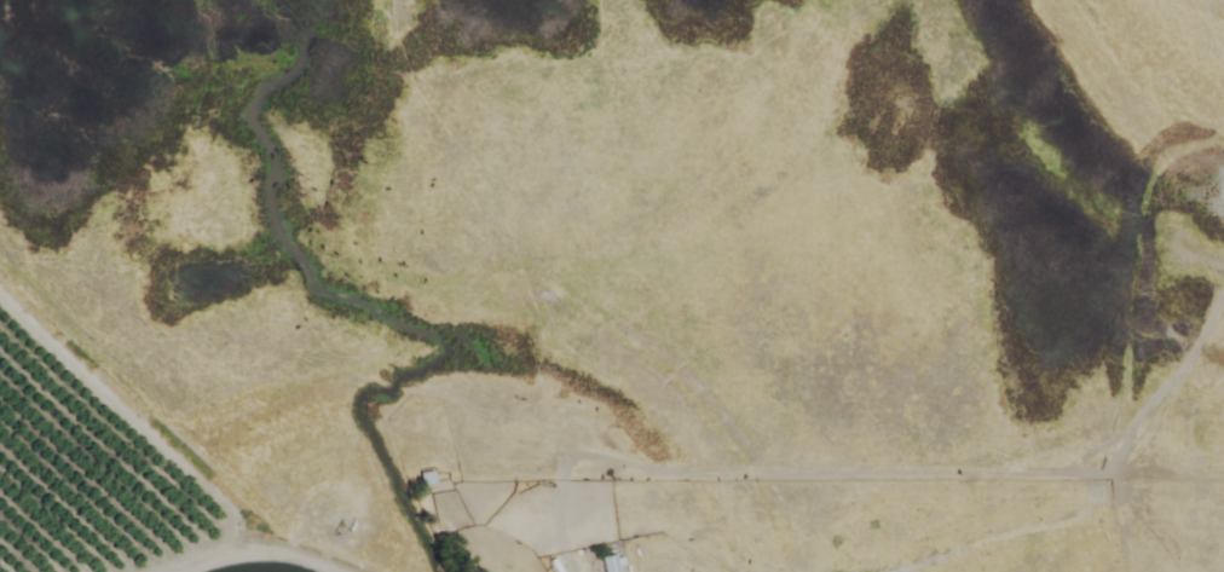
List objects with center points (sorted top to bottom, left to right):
crop: (100, 475)

